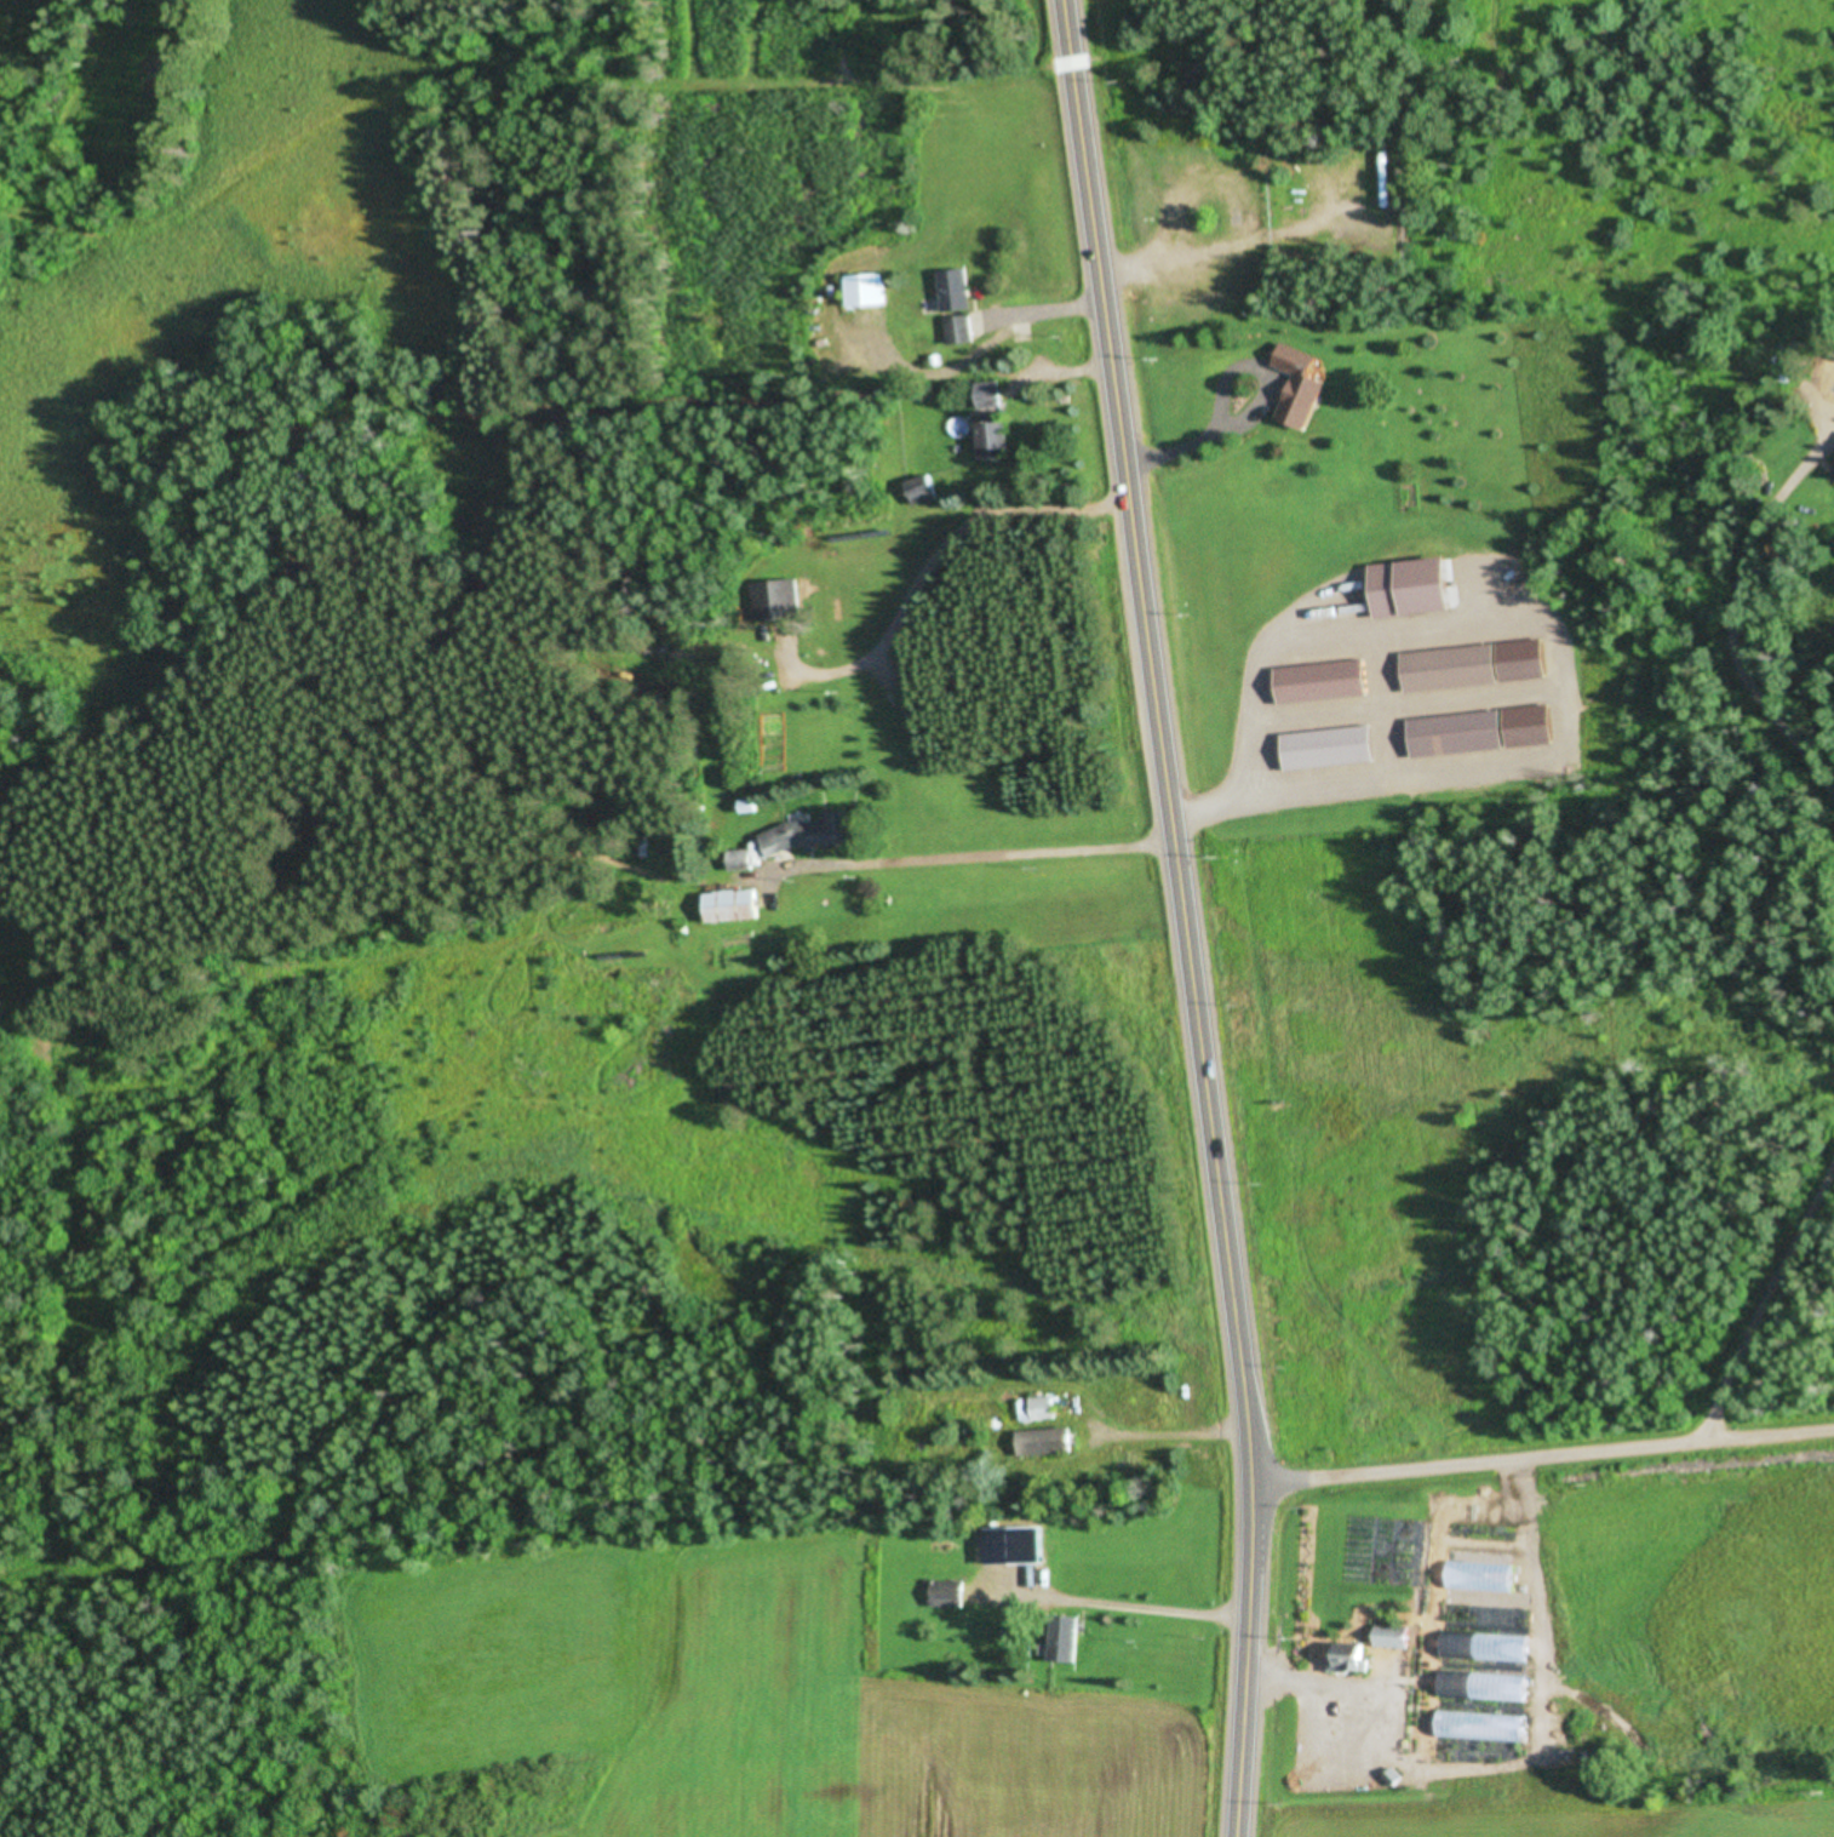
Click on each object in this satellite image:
building: (869, 291)
building: (958, 291)
building: (961, 330)
building: (1303, 385)
building: (992, 395)
building: (996, 439)
building: (919, 491)
building: (1416, 589)
building: (774, 601)
building: (1451, 669)
building: (1323, 683)
building: (1458, 736)
building: (1330, 749)
building: (813, 835)
building: (734, 906)
road: (1190, 917)
building: (1038, 1409)
building: (1048, 1442)
road: (1548, 1463)
building: (951, 1593)
building: (1397, 1637)
building: (1067, 1639)
building: (1352, 1663)
building: (1457, 1713)

